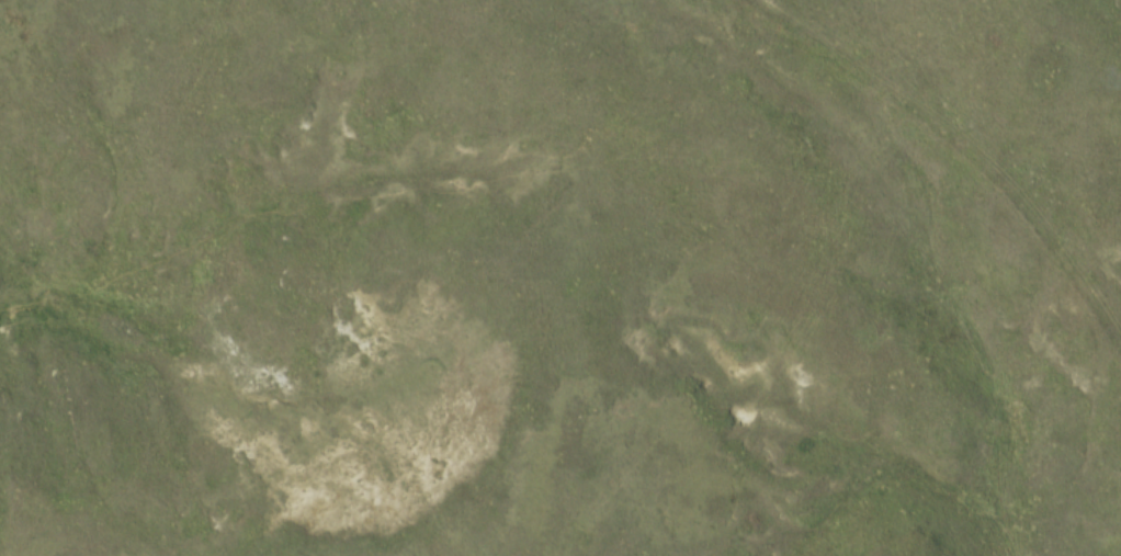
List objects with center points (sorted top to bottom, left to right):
road: (993, 124)

